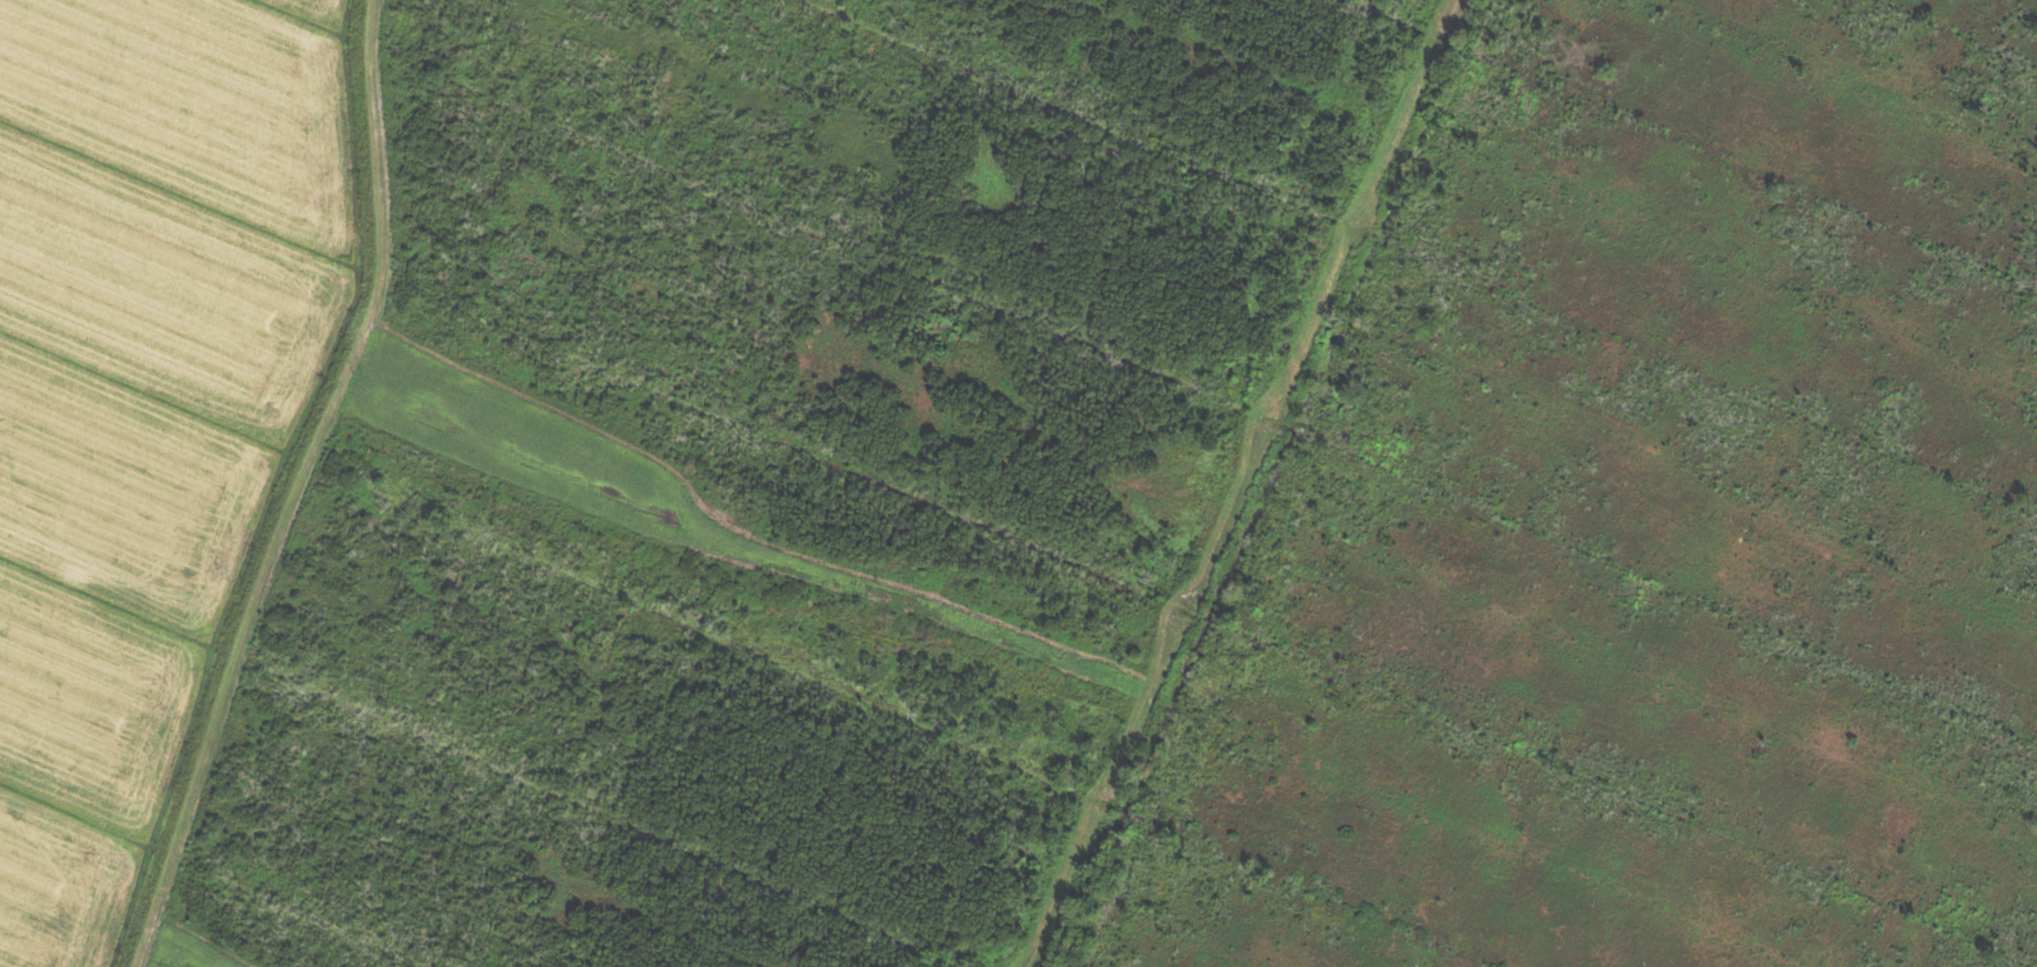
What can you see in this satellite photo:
crop: (144, 398)
road: (1242, 483)

